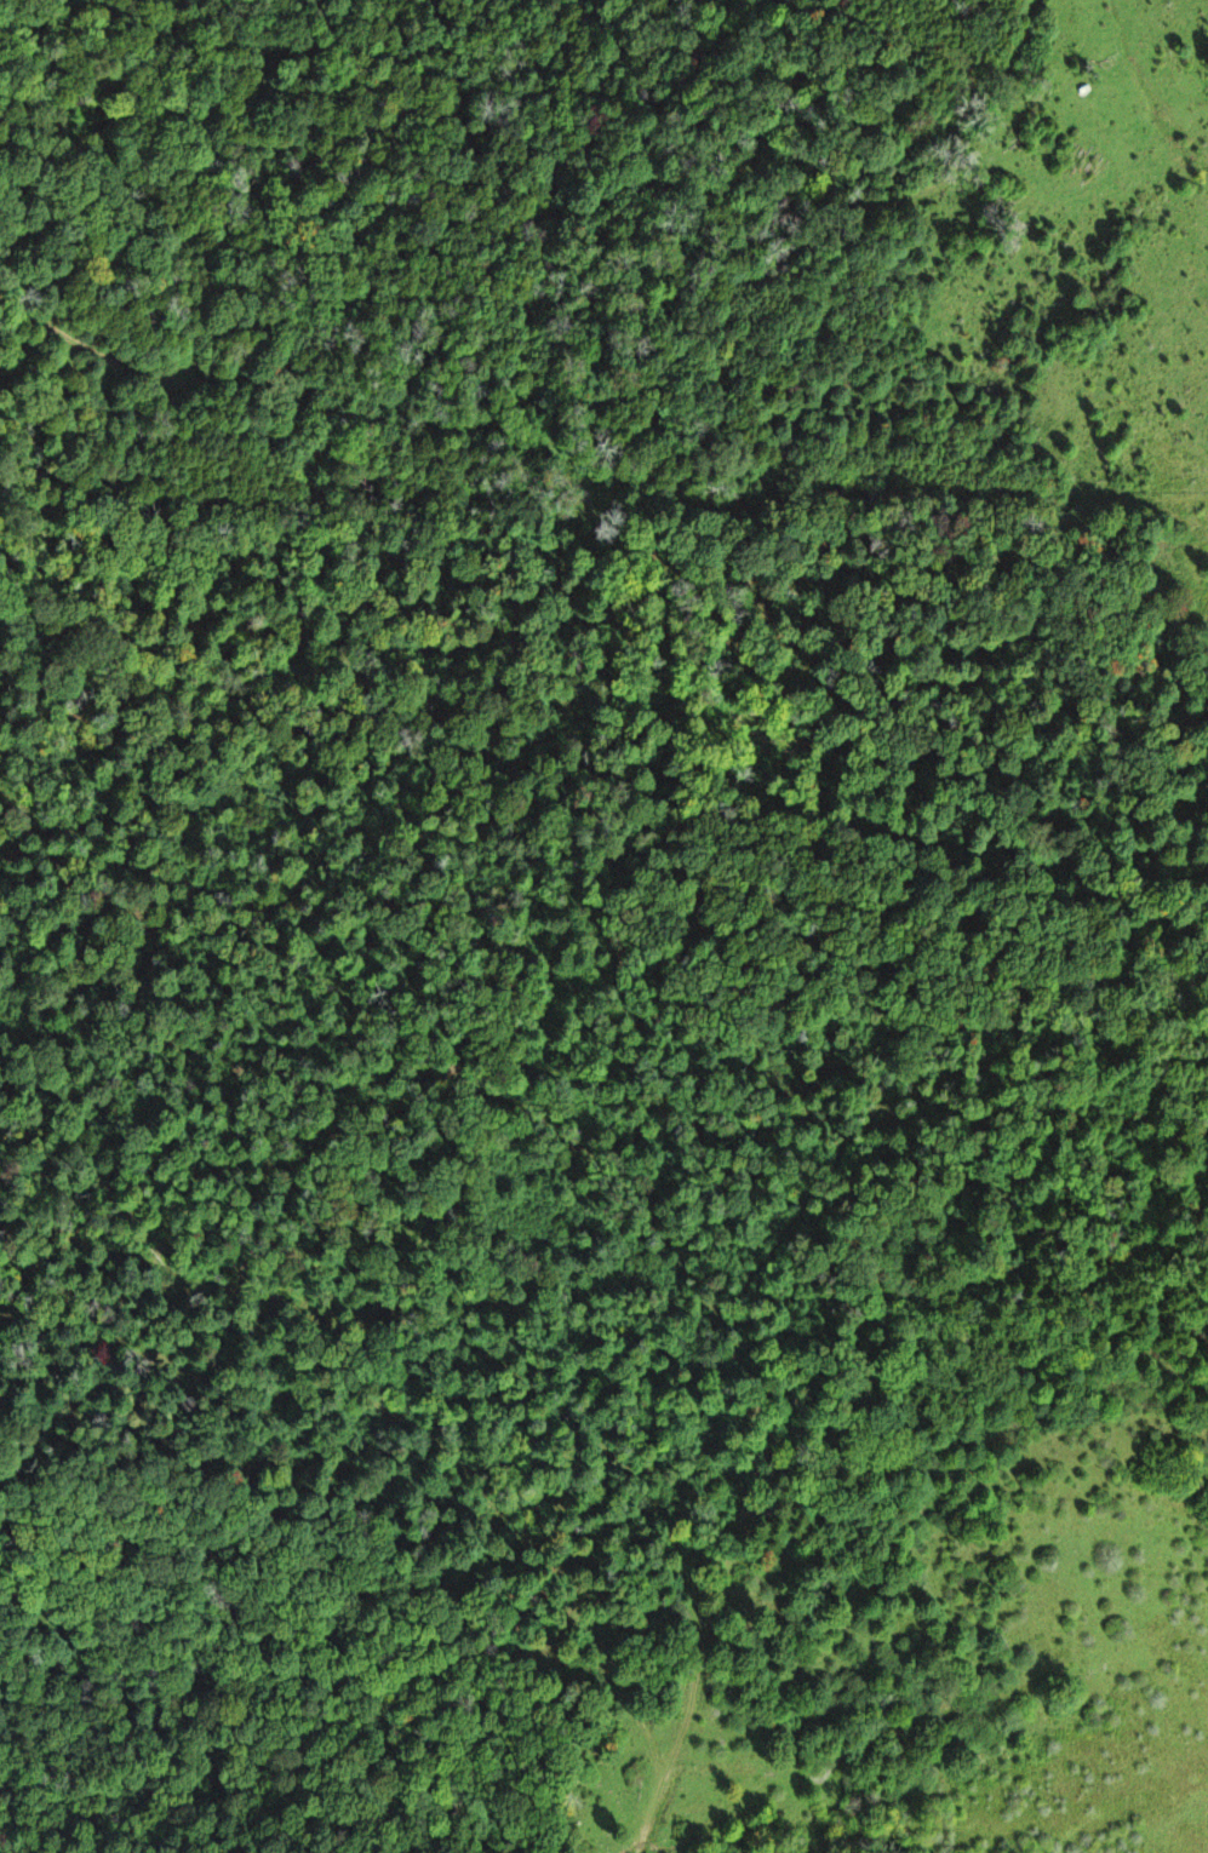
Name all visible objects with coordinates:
road: (390, 1462)
road: (705, 1623)

